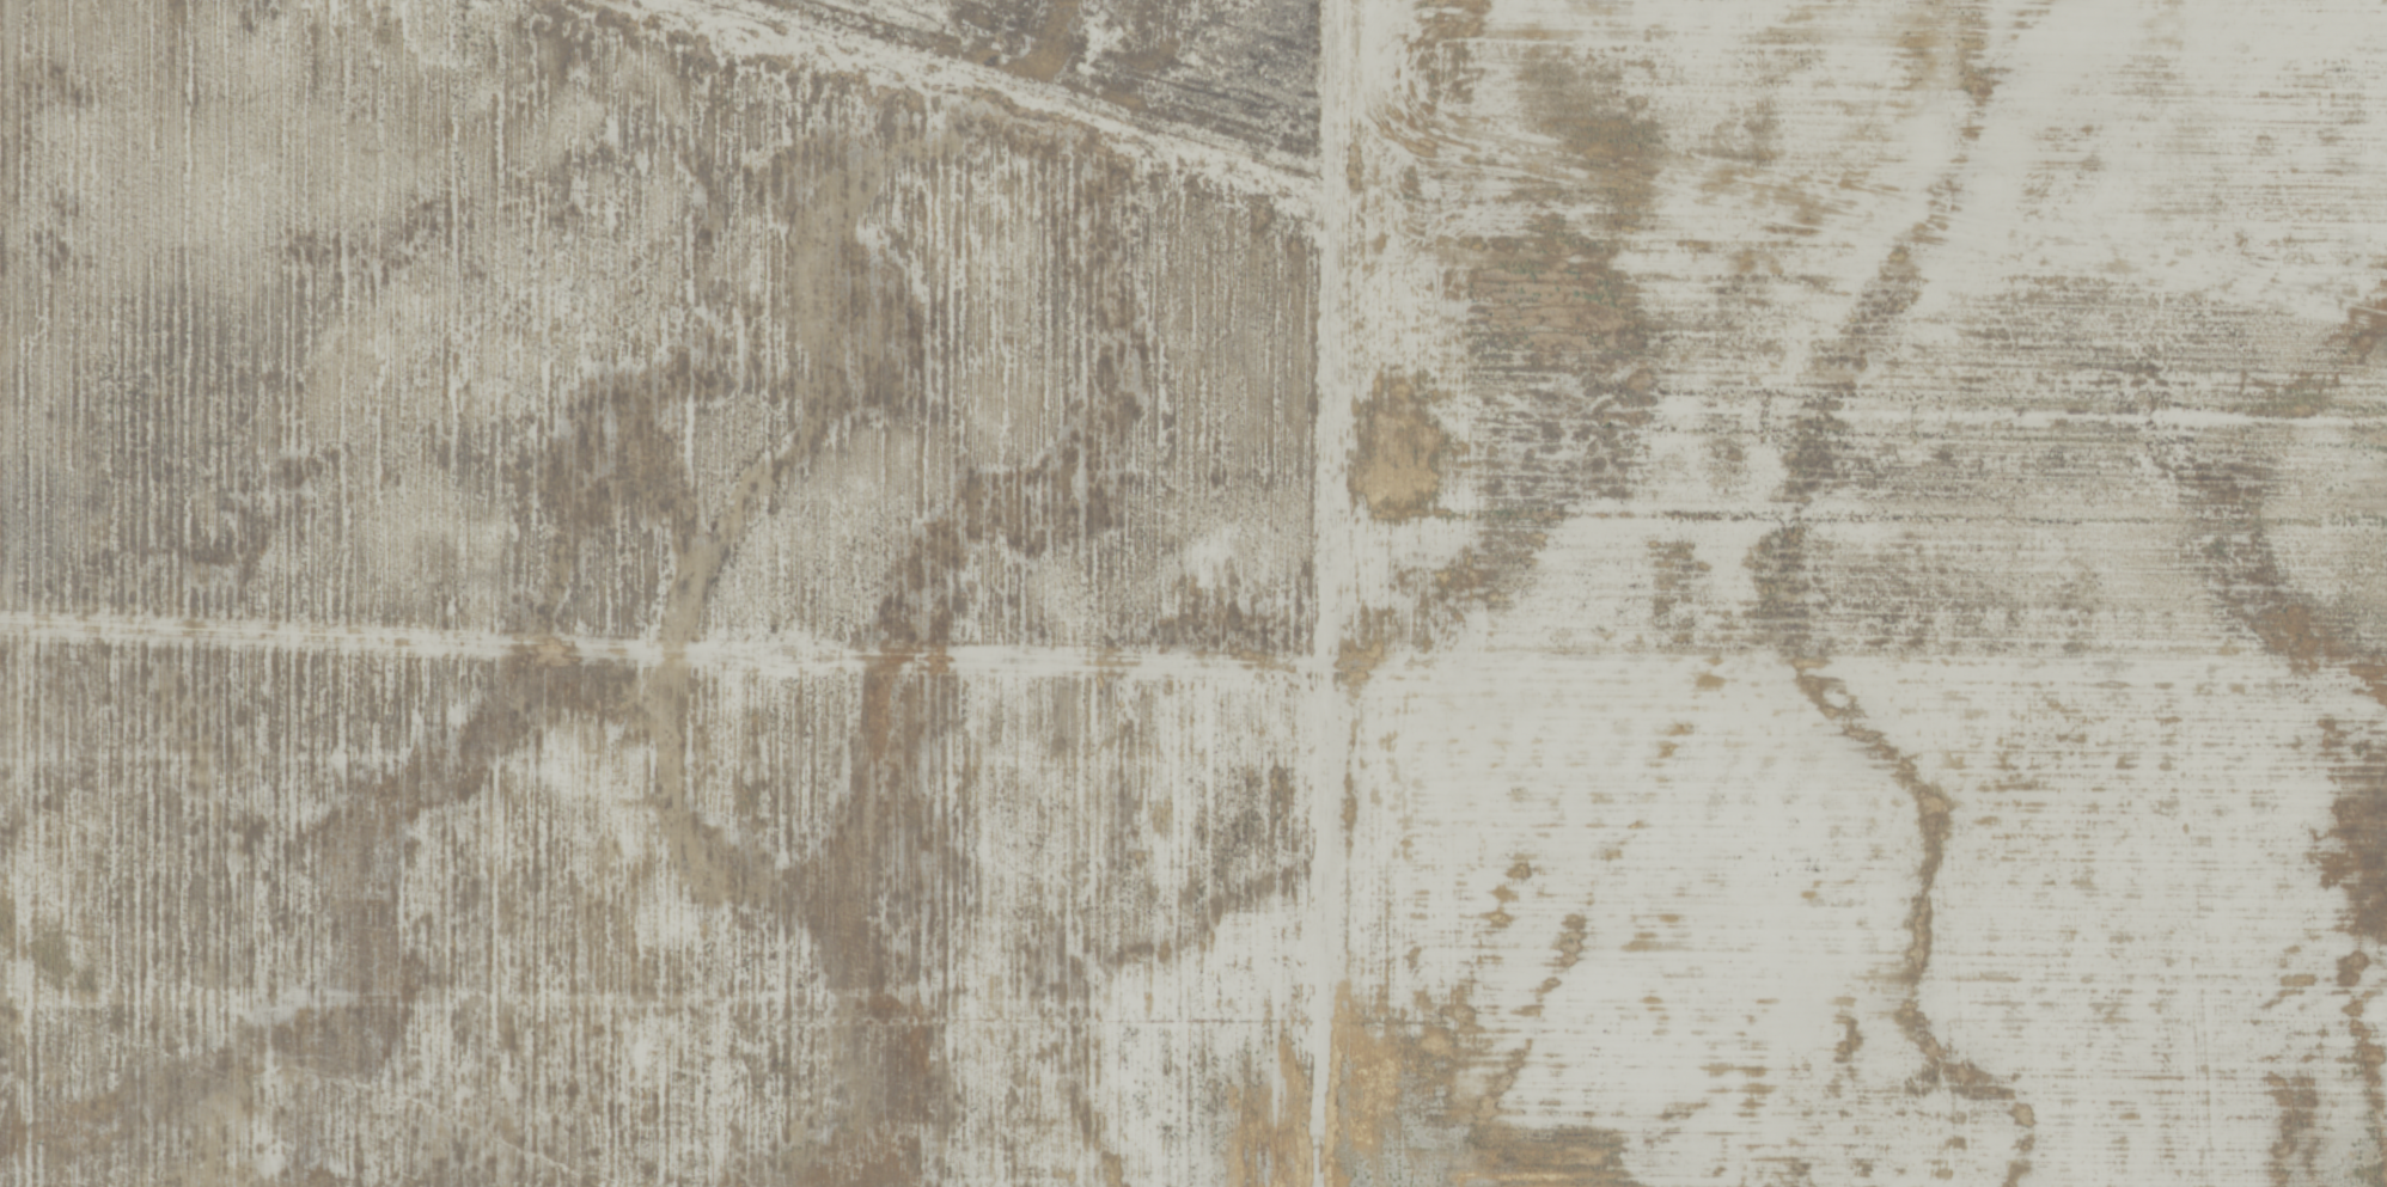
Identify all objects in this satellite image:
building: (41, 822)

